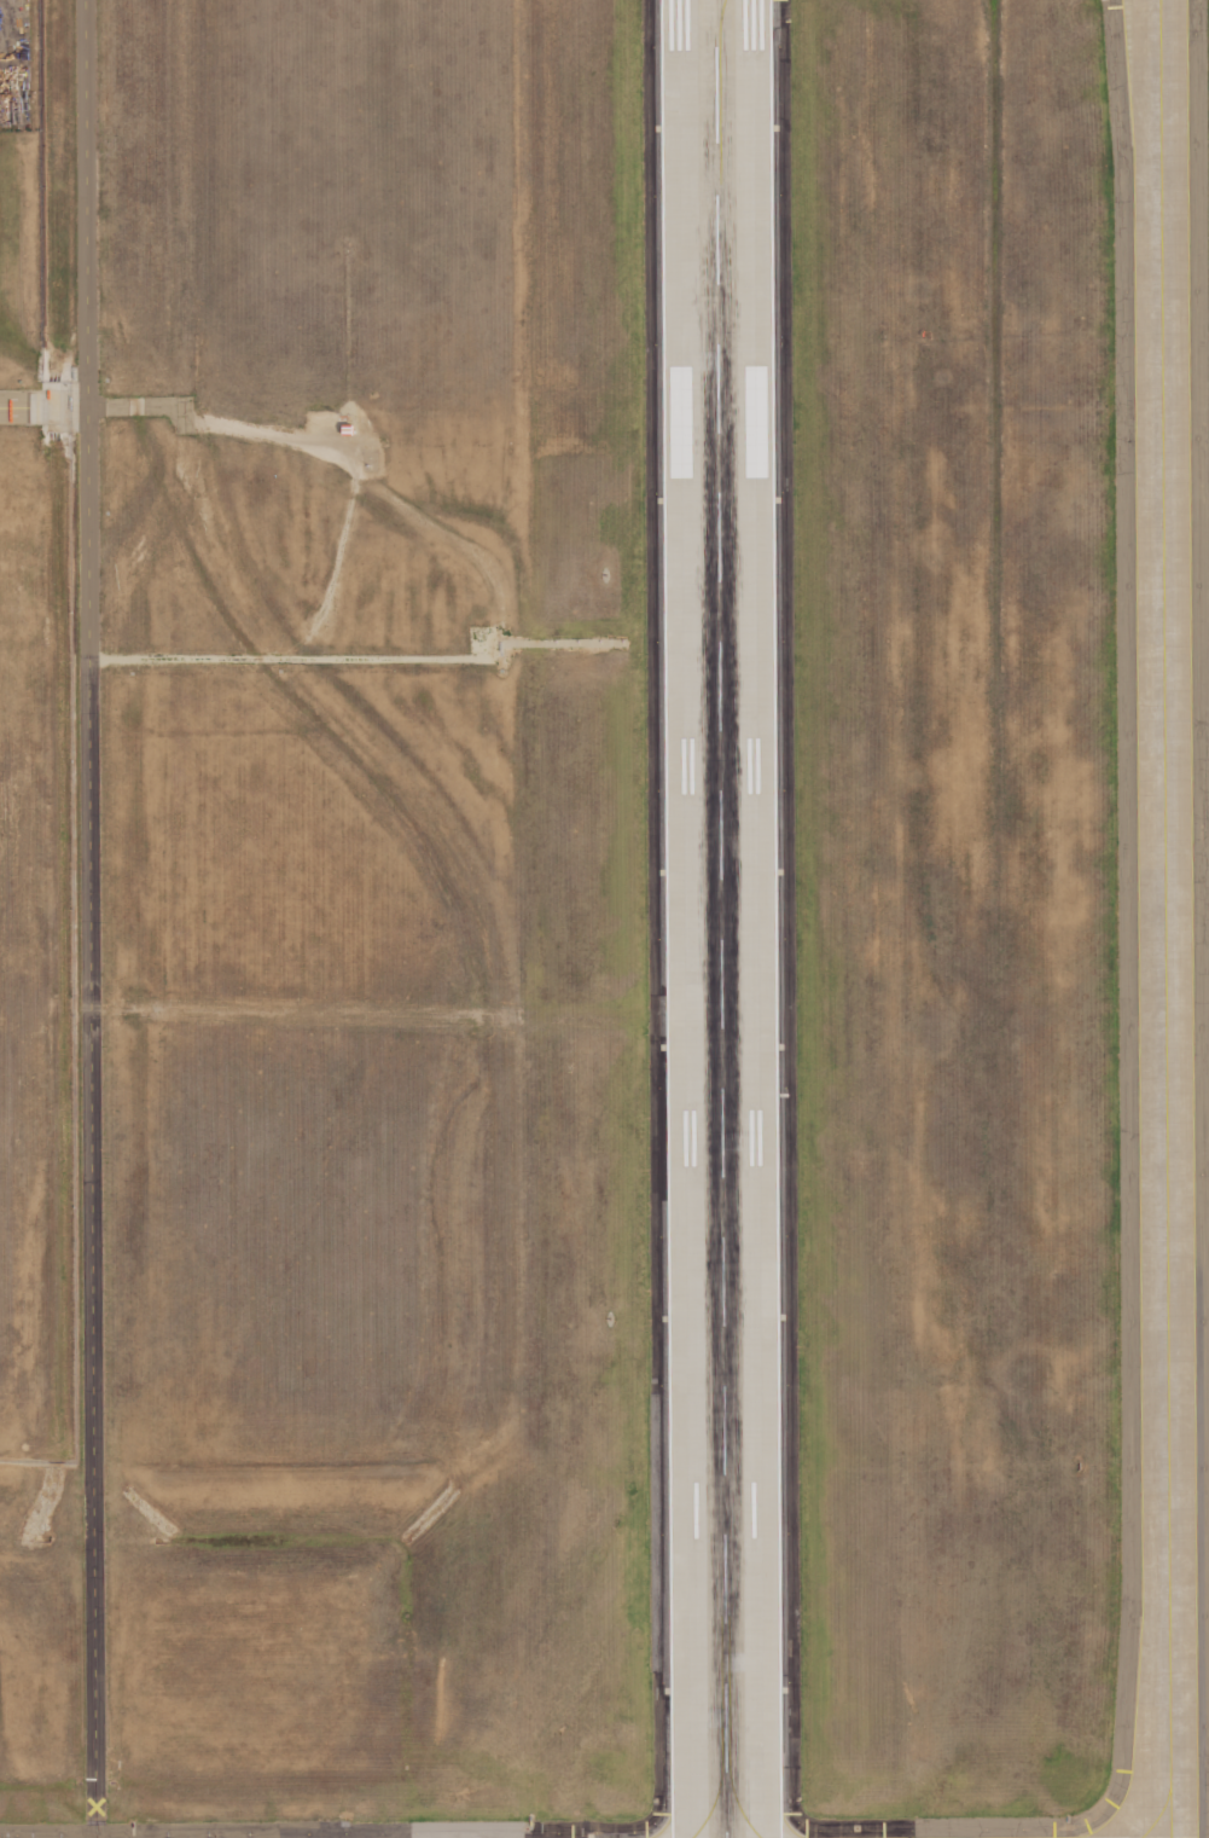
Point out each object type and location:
airport taxiway: (717, 10)
road: (85, 202)
road: (35, 405)
road: (77, 405)
road: (225, 427)
building: (345, 429)
road: (557, 643)
road: (302, 660)
airport runway: (720, 918)
airport taxiway: (1164, 918)
airport: (632, 929)
road: (36, 1007)
road: (396, 1010)
road: (89, 1120)

